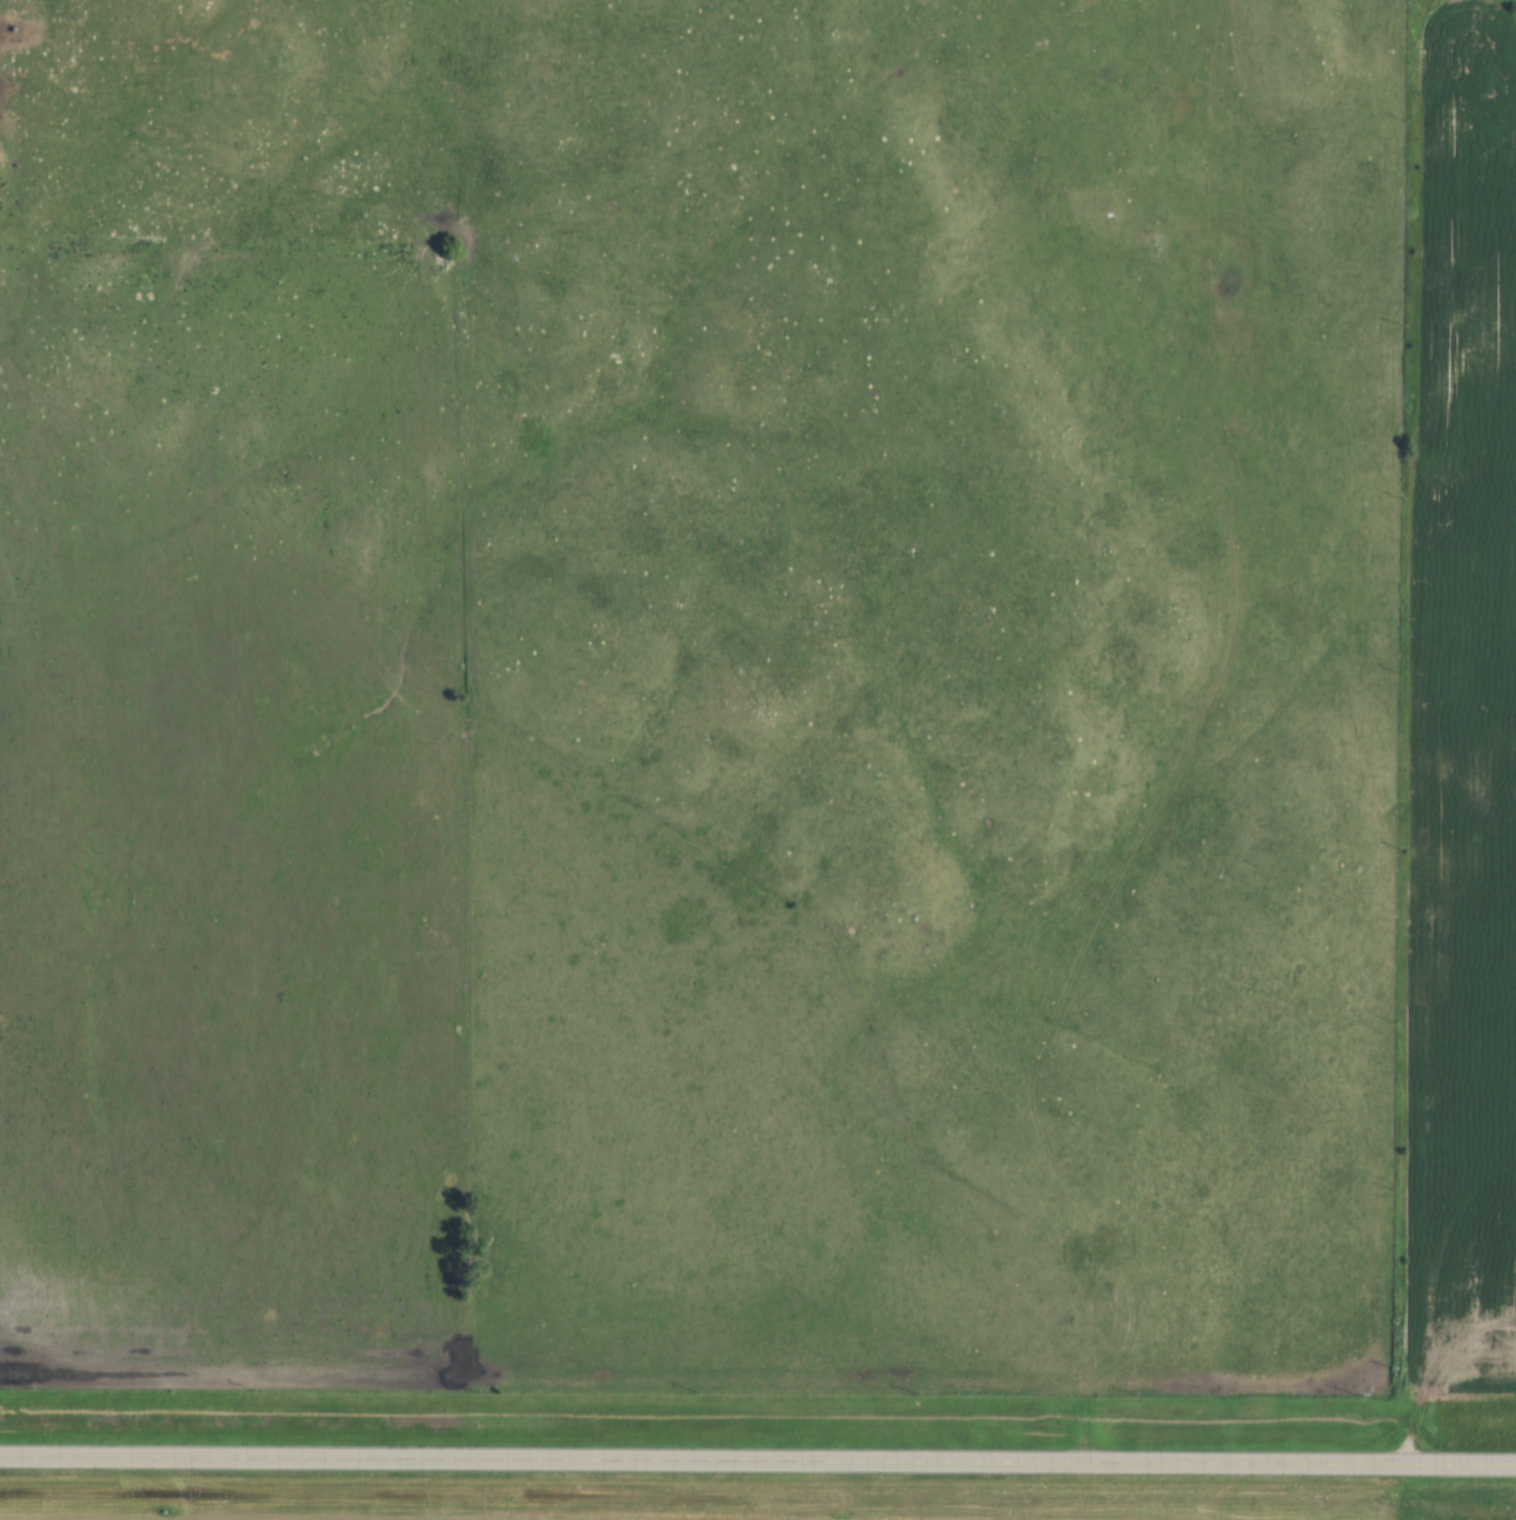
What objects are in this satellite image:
road: (758, 1463)

